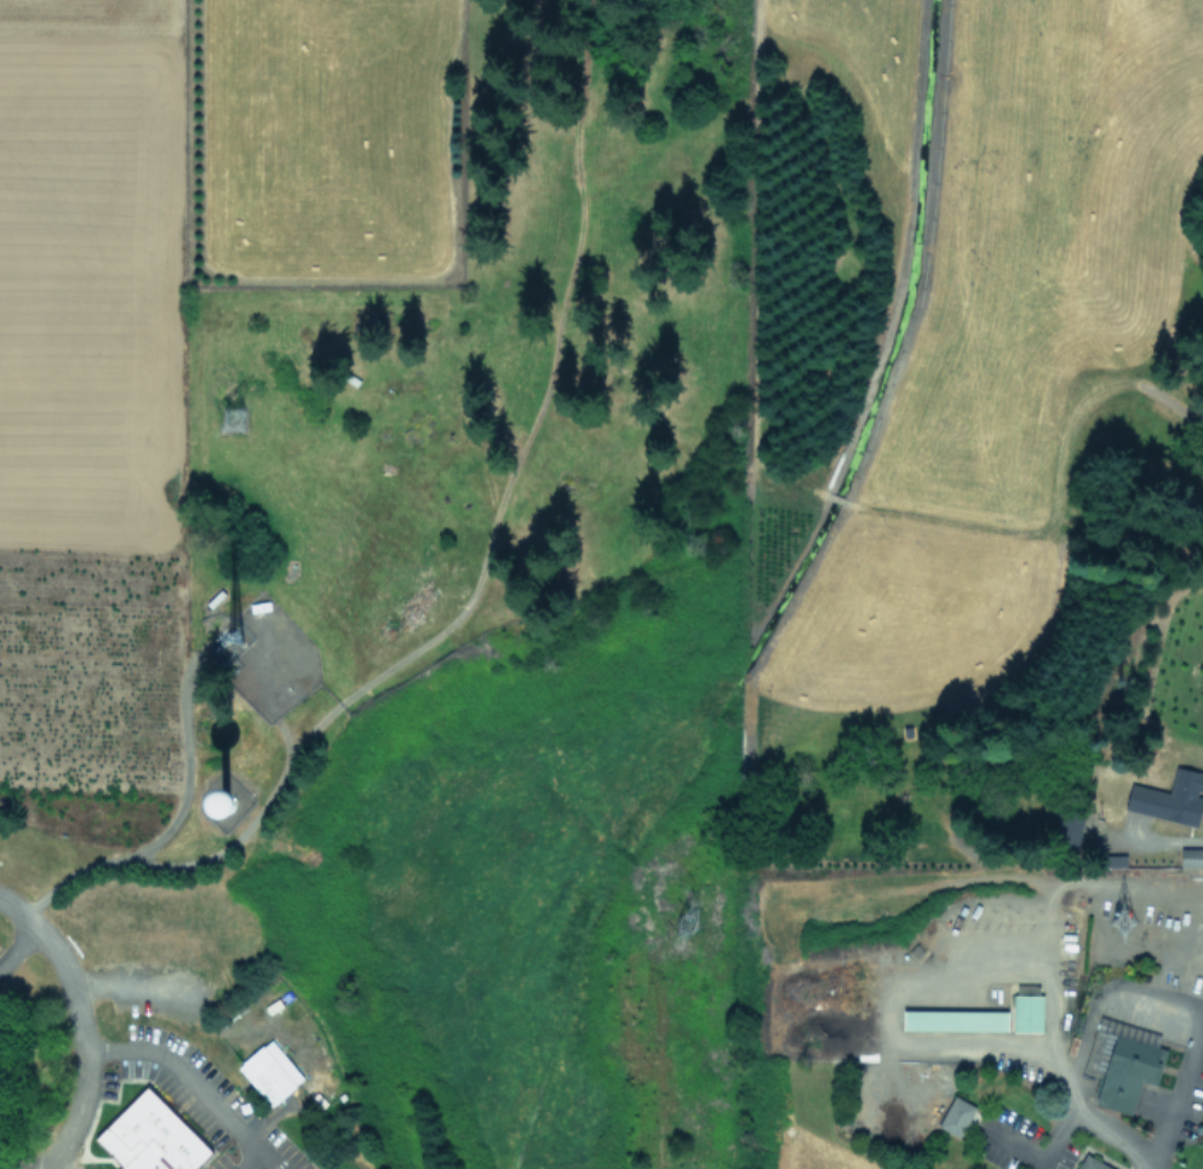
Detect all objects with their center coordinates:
power tower: (230, 419)
water tower: (279, 664)
building: (1169, 797)
water tower: (228, 806)
road: (1195, 839)
building: (1190, 856)
road: (1054, 888)
power tower: (1117, 912)
power tower: (692, 913)
road: (23, 950)
building: (1026, 1012)
road: (1202, 1015)
building: (953, 1019)
road: (88, 1030)
road: (901, 1039)
road: (1190, 1053)
building: (1121, 1062)
building: (269, 1071)
road: (191, 1081)
parking lot: (194, 1096)
building: (955, 1114)
road: (268, 1118)
road: (1069, 1125)
building: (150, 1136)
road: (262, 1154)
building: (1092, 1163)

